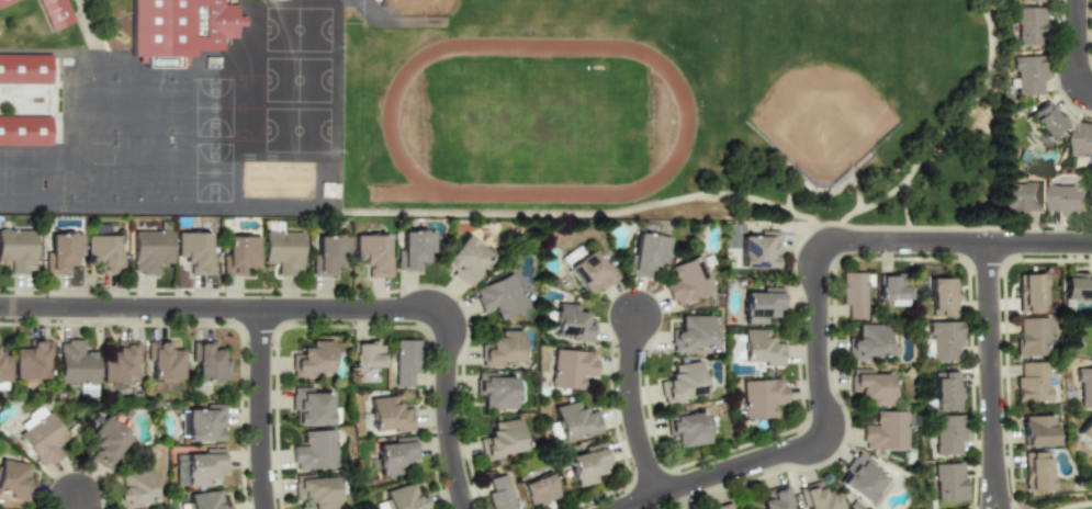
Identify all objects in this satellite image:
building: (1029, 0)
building: (5, 1)
building: (54, 13)
building: (1028, 25)
building: (178, 29)
road: (1077, 48)
building: (24, 68)
building: (1027, 73)
park: (823, 111)
building: (1047, 123)
building: (24, 131)
road: (945, 135)
building: (1083, 139)
building: (1021, 196)
building: (1069, 200)
road: (909, 211)
road: (598, 213)
building: (753, 246)
building: (18, 249)
building: (150, 250)
building: (413, 250)
building: (194, 251)
building: (282, 251)
building: (61, 252)
building: (103, 252)
building: (373, 253)
building: (646, 253)
building: (239, 255)
building: (328, 255)
building: (570, 256)
building: (465, 260)
building: (589, 272)
building: (687, 281)
building: (1077, 286)
building: (893, 289)
building: (1029, 292)
street lamp: (131, 293)
building: (853, 294)
building: (499, 296)
building: (942, 297)
building: (762, 305)
road: (132, 307)
road: (820, 316)
street lamp: (15, 320)
road: (447, 320)
street lamp: (228, 323)
building: (572, 324)
building: (690, 333)
building: (1031, 336)
building: (943, 339)
building: (867, 342)
building: (759, 347)
building: (500, 349)
building: (367, 354)
building: (312, 359)
building: (32, 360)
building: (164, 361)
building: (406, 361)
building: (209, 362)
building: (76, 363)
building: (120, 363)
building: (4, 366)
building: (571, 367)
road: (992, 375)
building: (682, 382)
building: (1032, 382)
building: (870, 386)
building: (1084, 387)
building: (495, 391)
building: (945, 391)
building: (761, 397)
building: (309, 407)
road: (633, 407)
road: (262, 409)
building: (389, 415)
building: (574, 420)
building: (203, 423)
building: (686, 428)
building: (1037, 430)
building: (1085, 430)
building: (885, 431)
building: (948, 433)
building: (41, 437)
building: (503, 439)
building: (106, 442)
street lamp: (247, 444)
building: (315, 451)
building: (396, 455)
building: (587, 464)
building: (199, 466)
building: (1035, 471)
building: (14, 479)
building: (863, 480)
building: (948, 482)
building: (135, 488)
building: (539, 489)
building: (316, 490)
building: (499, 494)
building: (818, 497)
building: (404, 498)
building: (776, 498)
building: (205, 500)
road: (78, 504)
building: (723, 507)
building: (745, 508)

